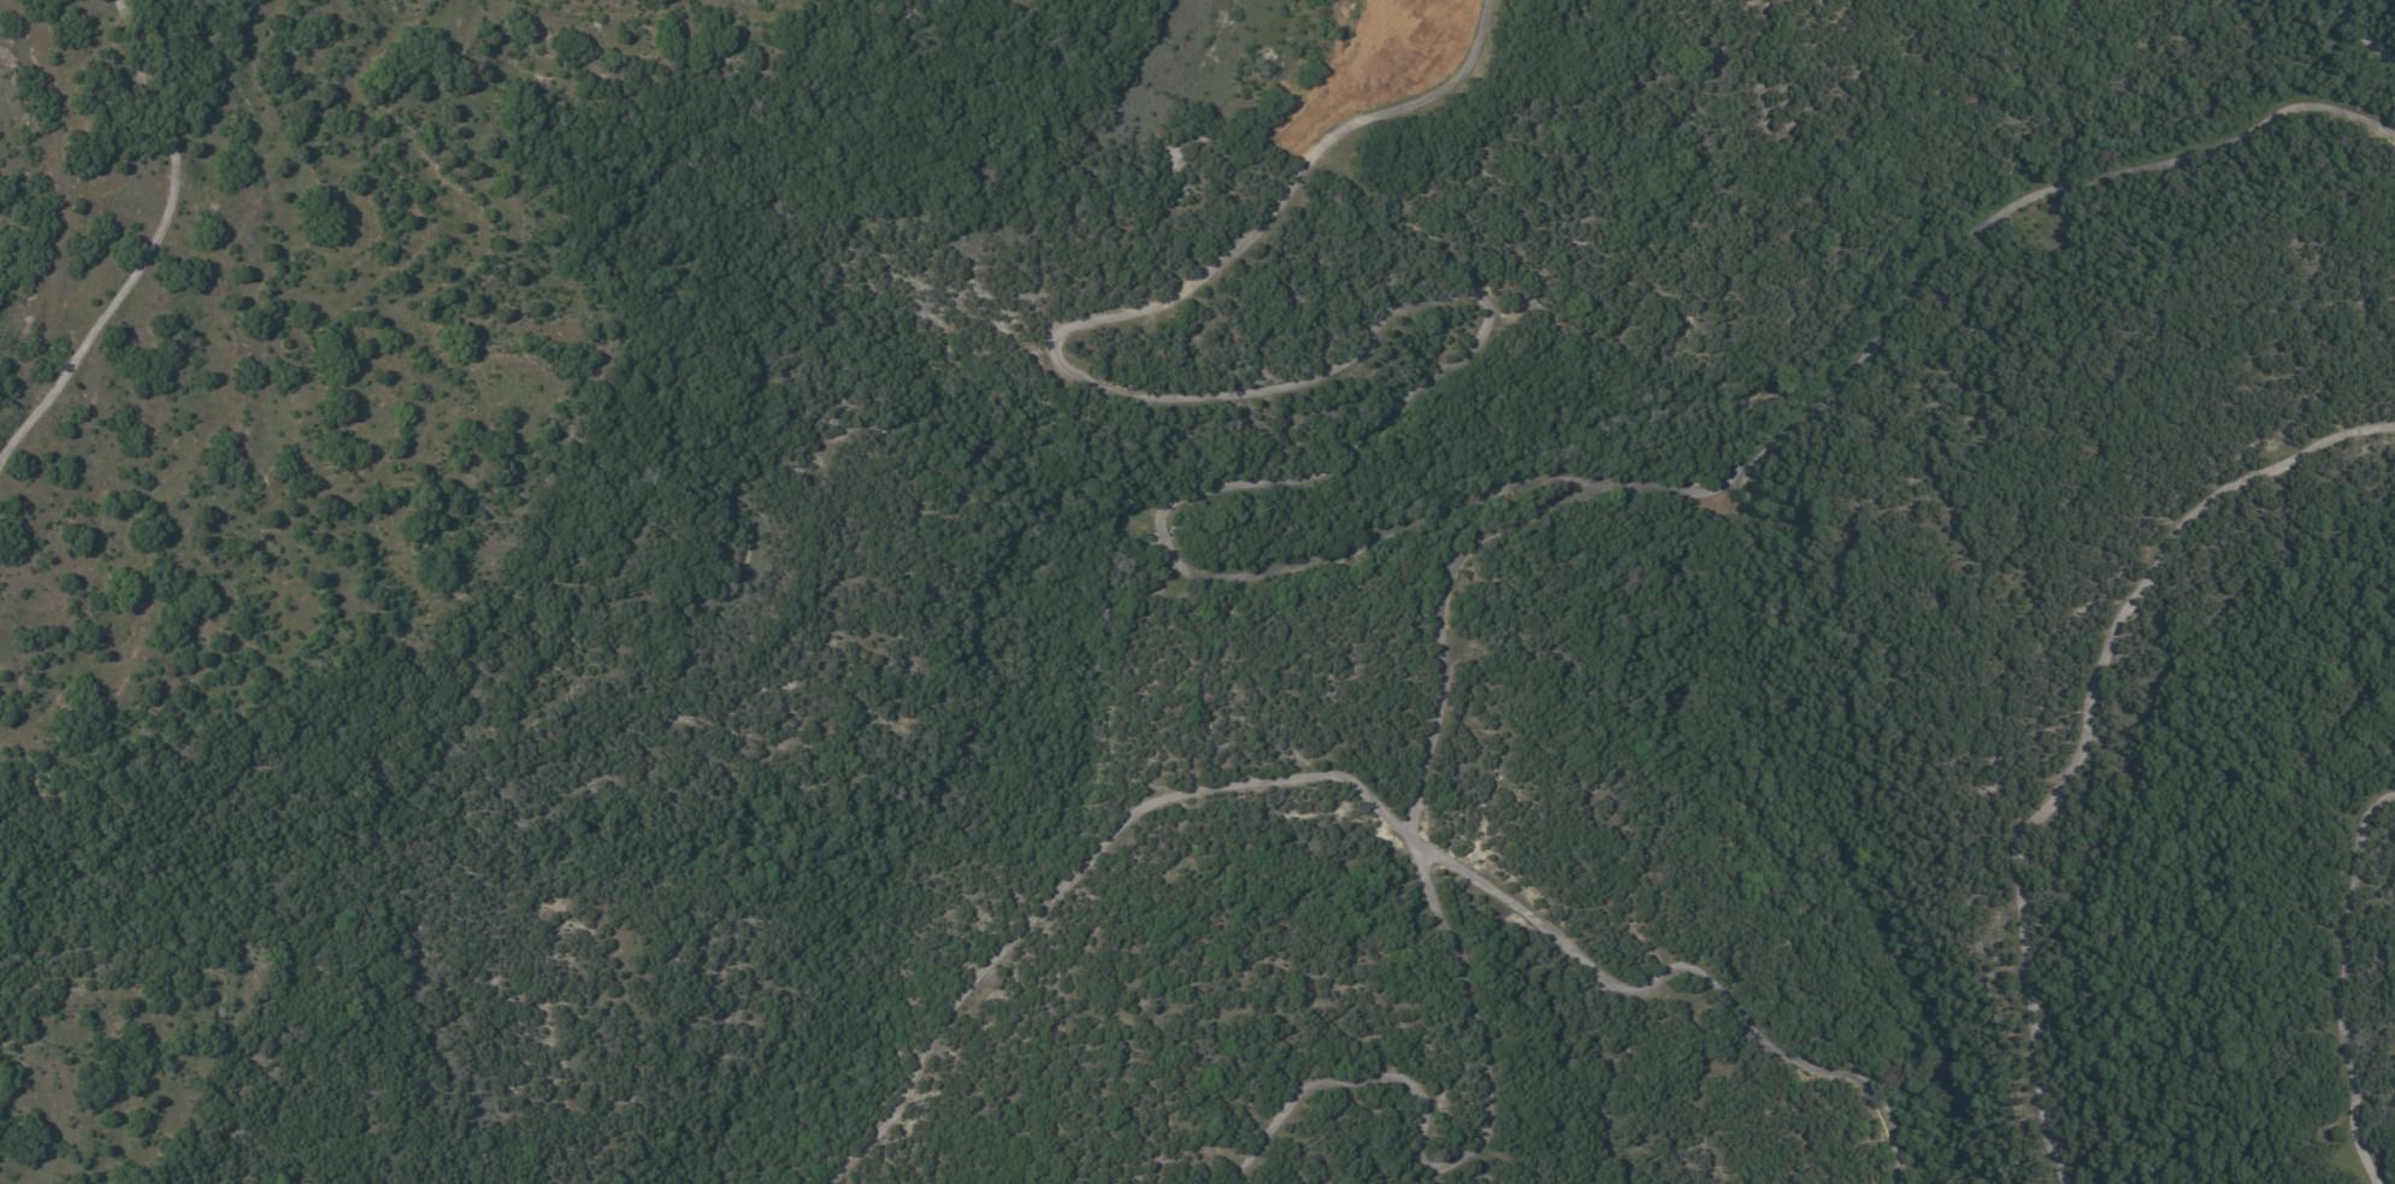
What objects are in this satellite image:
park: (1713, 172)
road: (153, 252)

